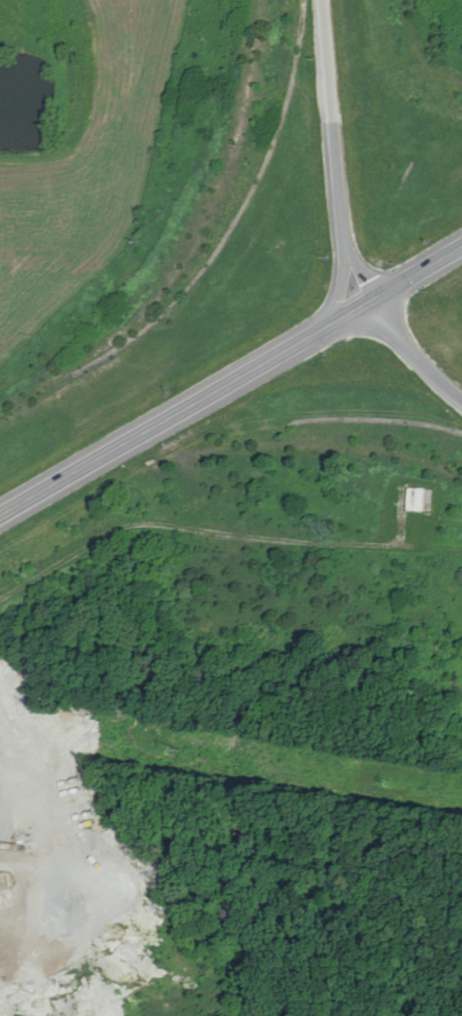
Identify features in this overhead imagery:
road: (328, 125)
road: (360, 272)
road: (334, 291)
road: (411, 355)
road: (230, 381)
building: (413, 497)
road: (196, 535)

